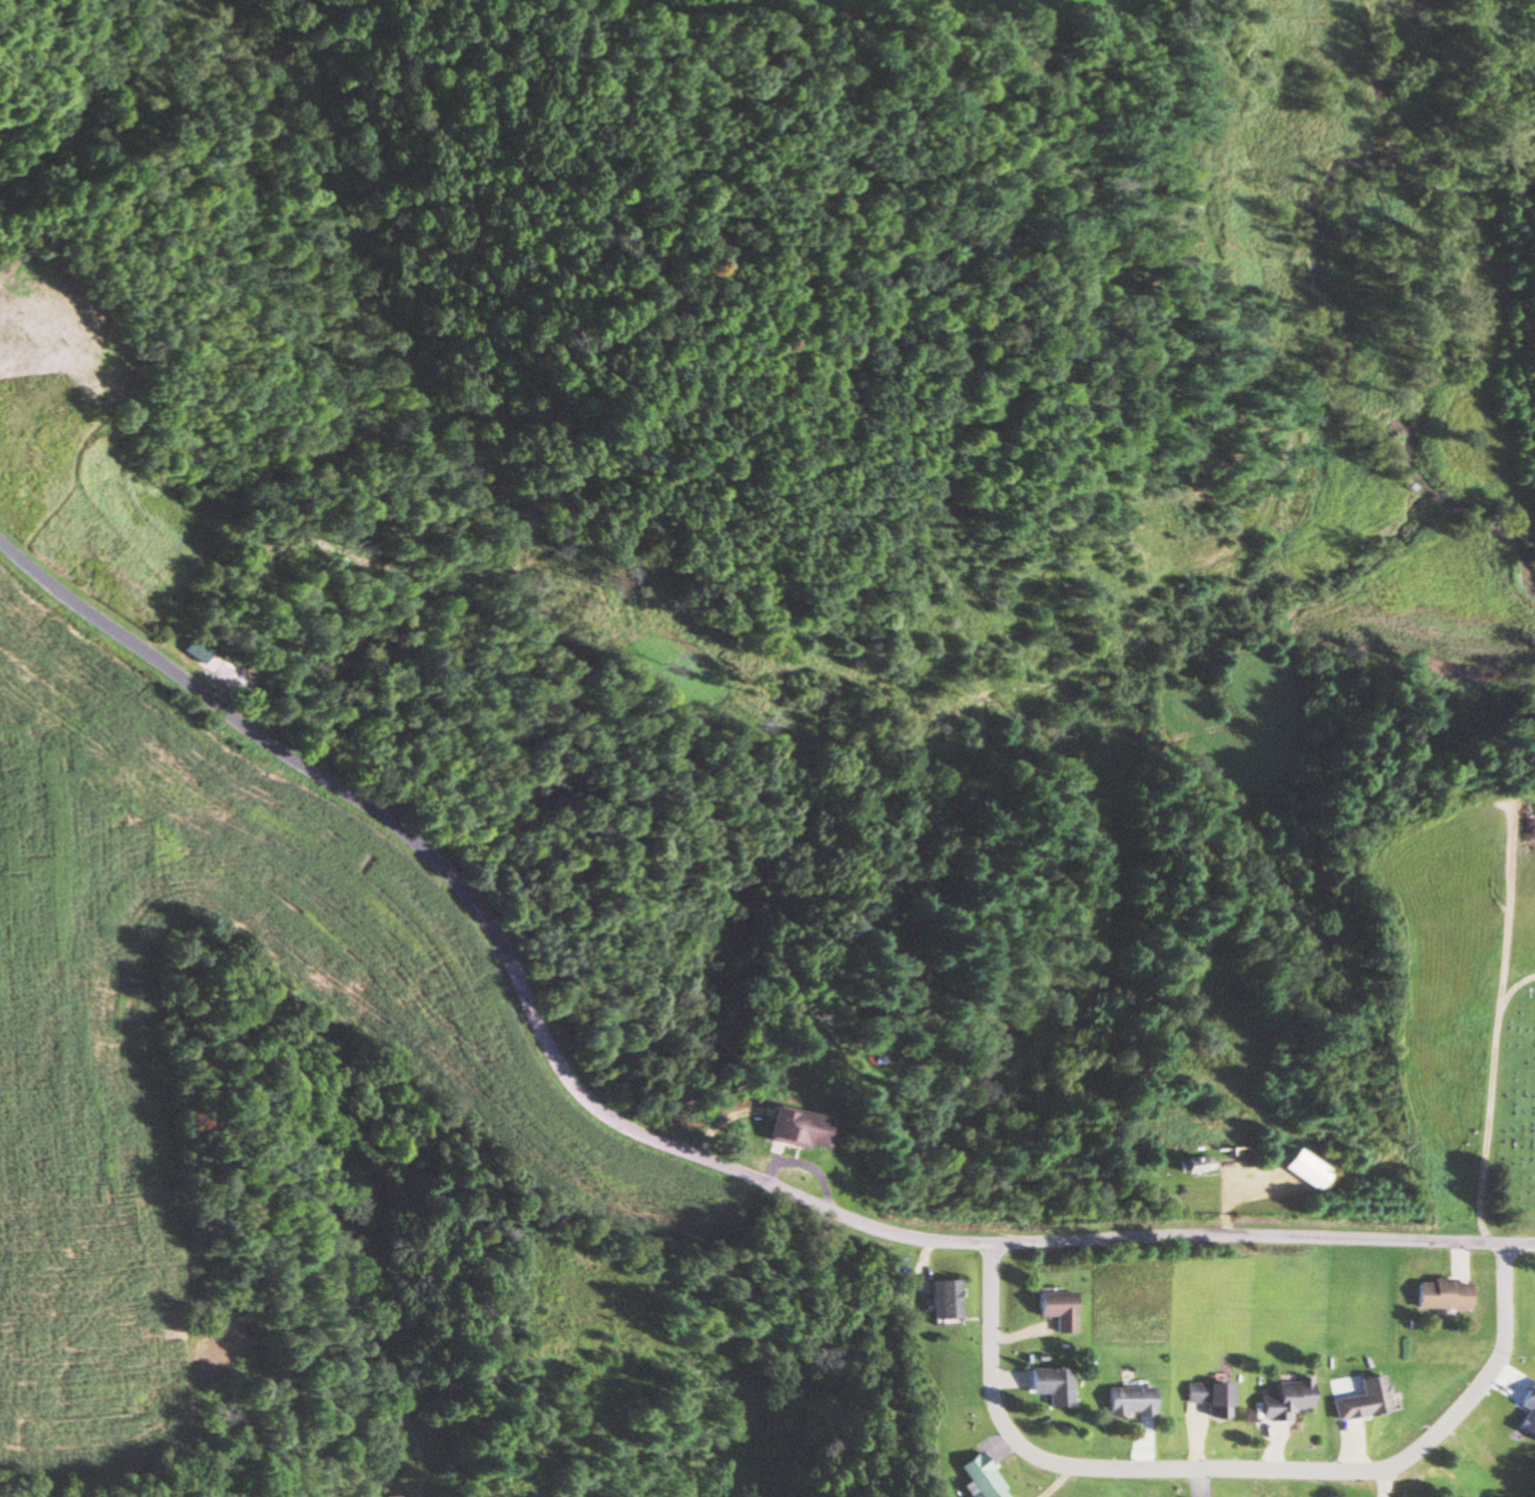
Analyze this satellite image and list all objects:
road: (268, 742)
building: (858, 933)
park: (1507, 1111)
building: (794, 1127)
building: (1192, 1165)
road: (967, 1241)
building: (1438, 1294)
building: (942, 1299)
building: (1055, 1309)
building: (1048, 1385)
building: (1206, 1398)
building: (1282, 1399)
building: (1361, 1400)
building: (1125, 1401)
road: (1228, 1469)
building: (969, 1477)
building: (388, 1496)

